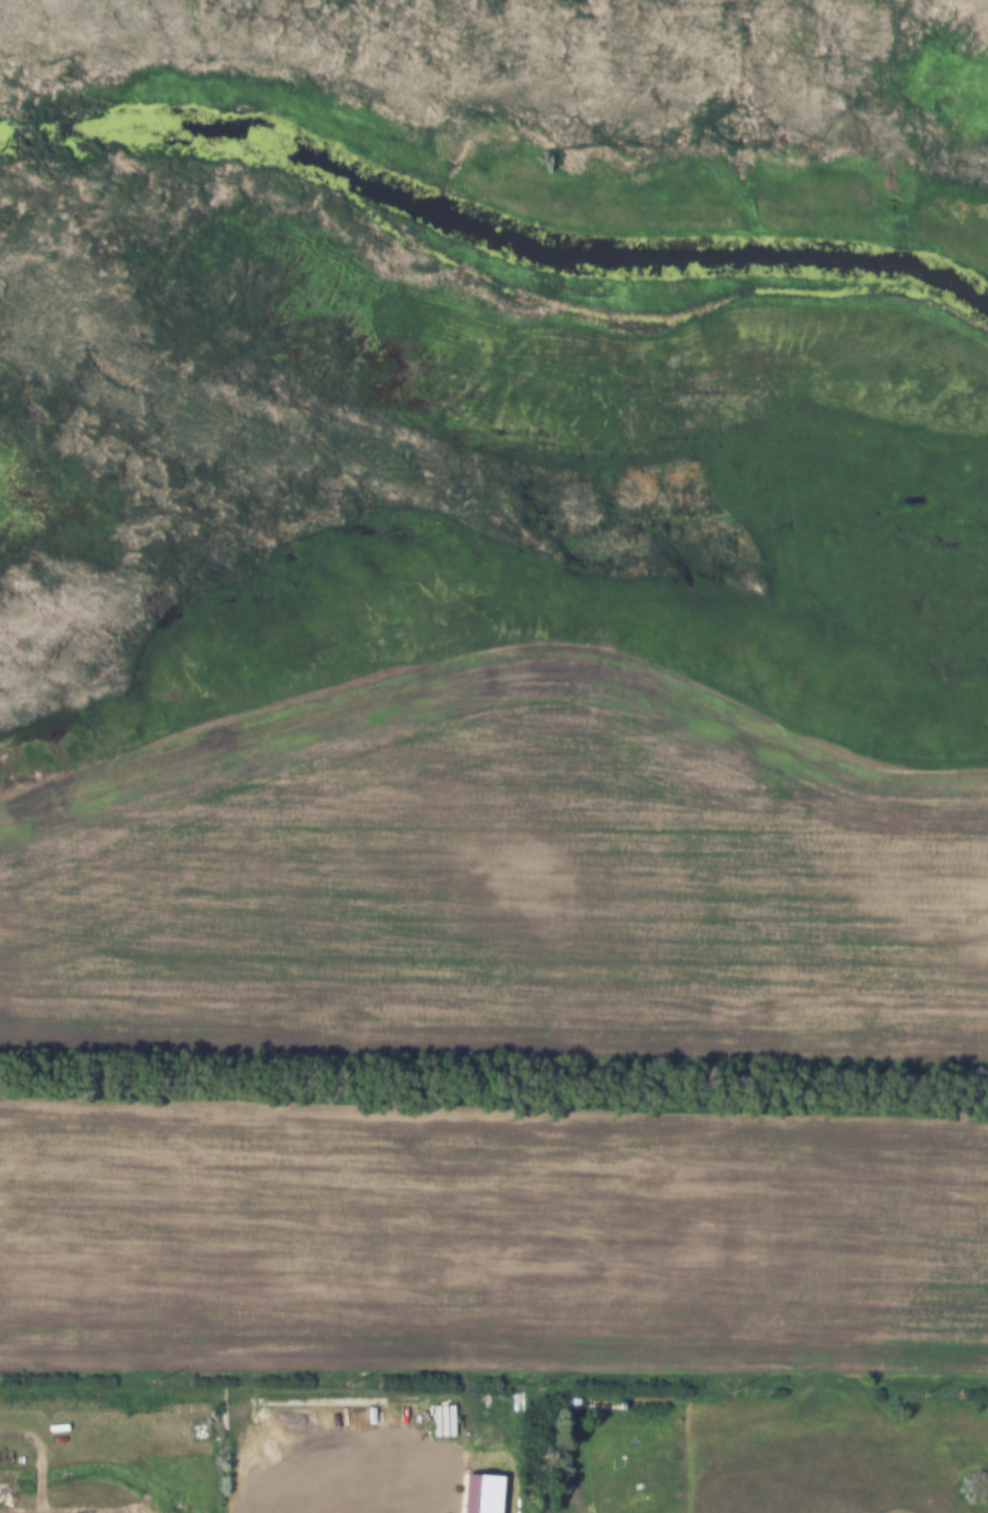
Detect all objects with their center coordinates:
building: (512, 1401)
building: (574, 1403)
building: (581, 1406)
building: (262, 1422)
building: (484, 1489)

